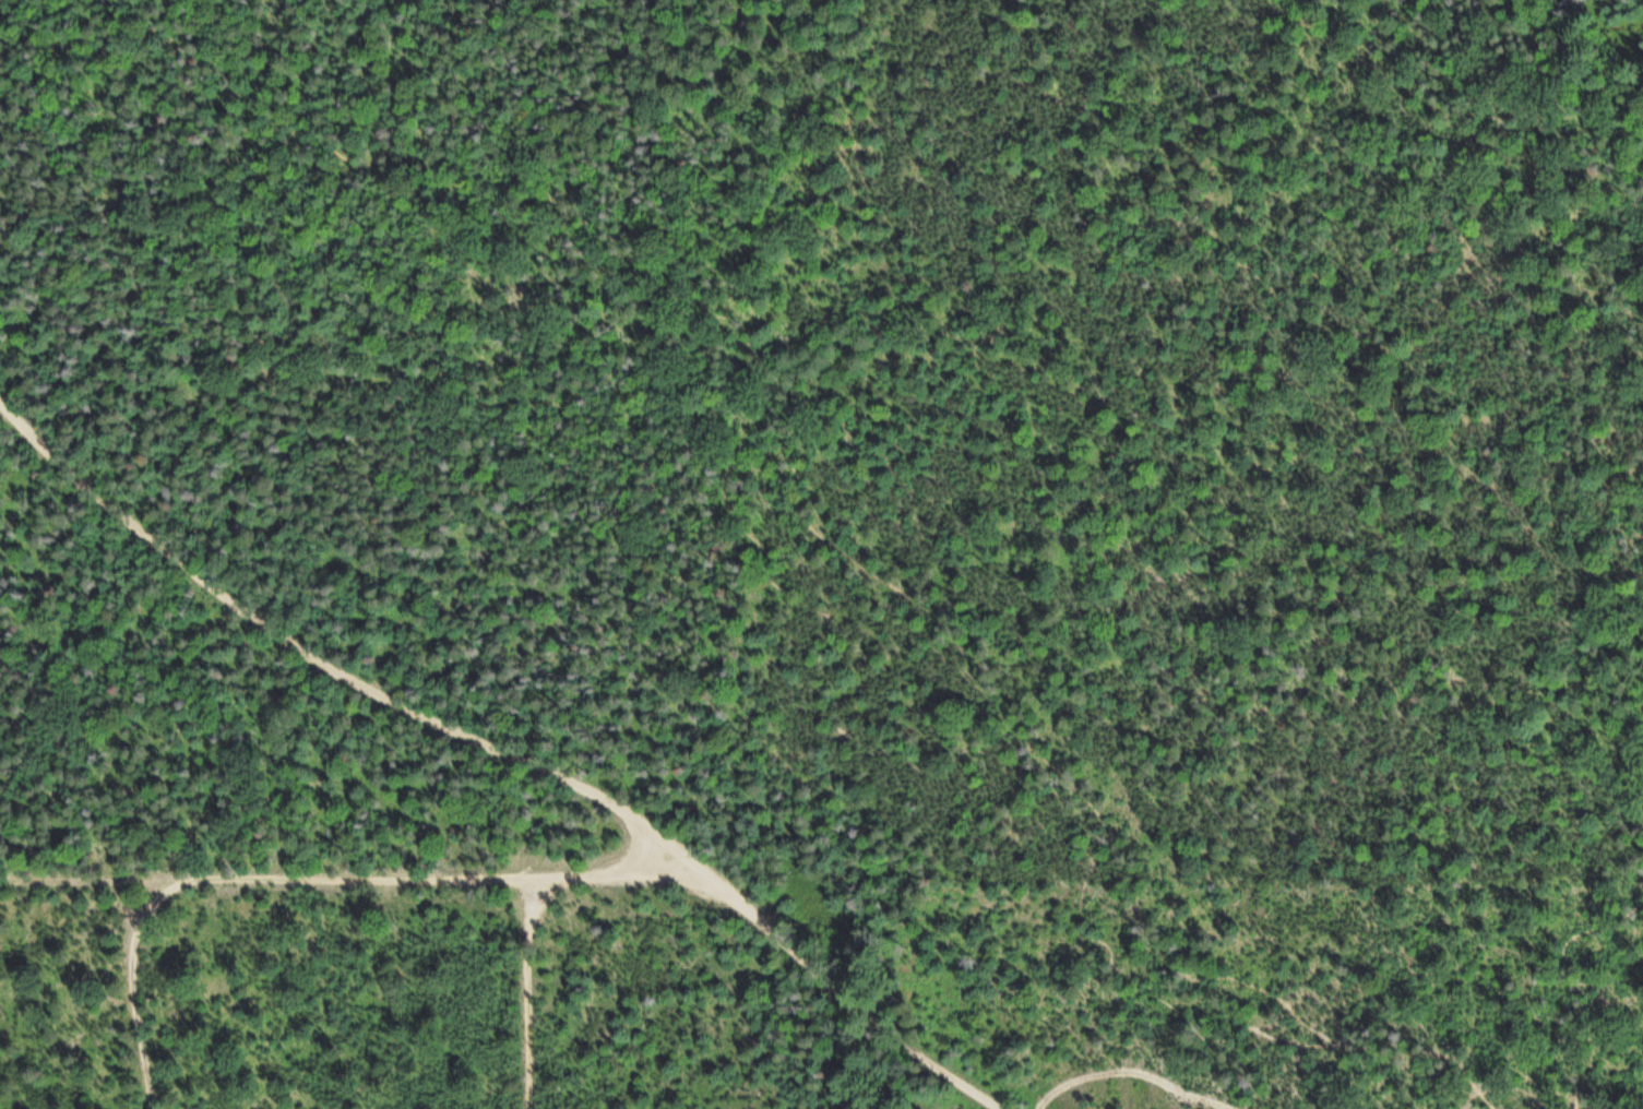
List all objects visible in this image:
road: (726, 501)
road: (504, 755)
road: (358, 878)
road: (90, 879)
road: (529, 916)
road: (1581, 985)
road: (136, 986)

